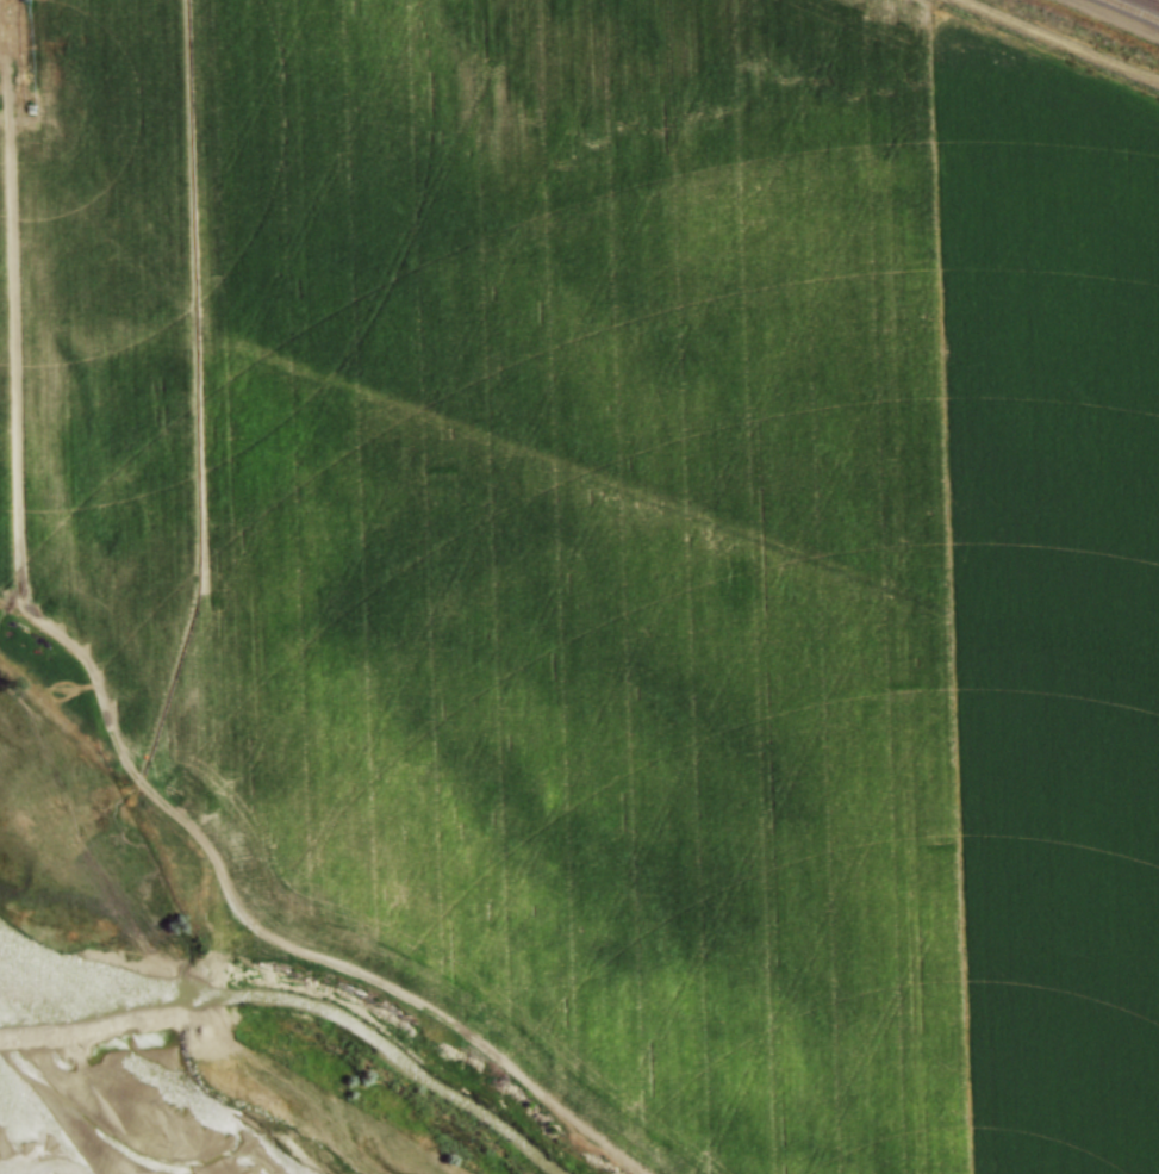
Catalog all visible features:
railway: (1155, 1)
railway: (1135, 10)
building: (837, 570)
river: (108, 1111)

